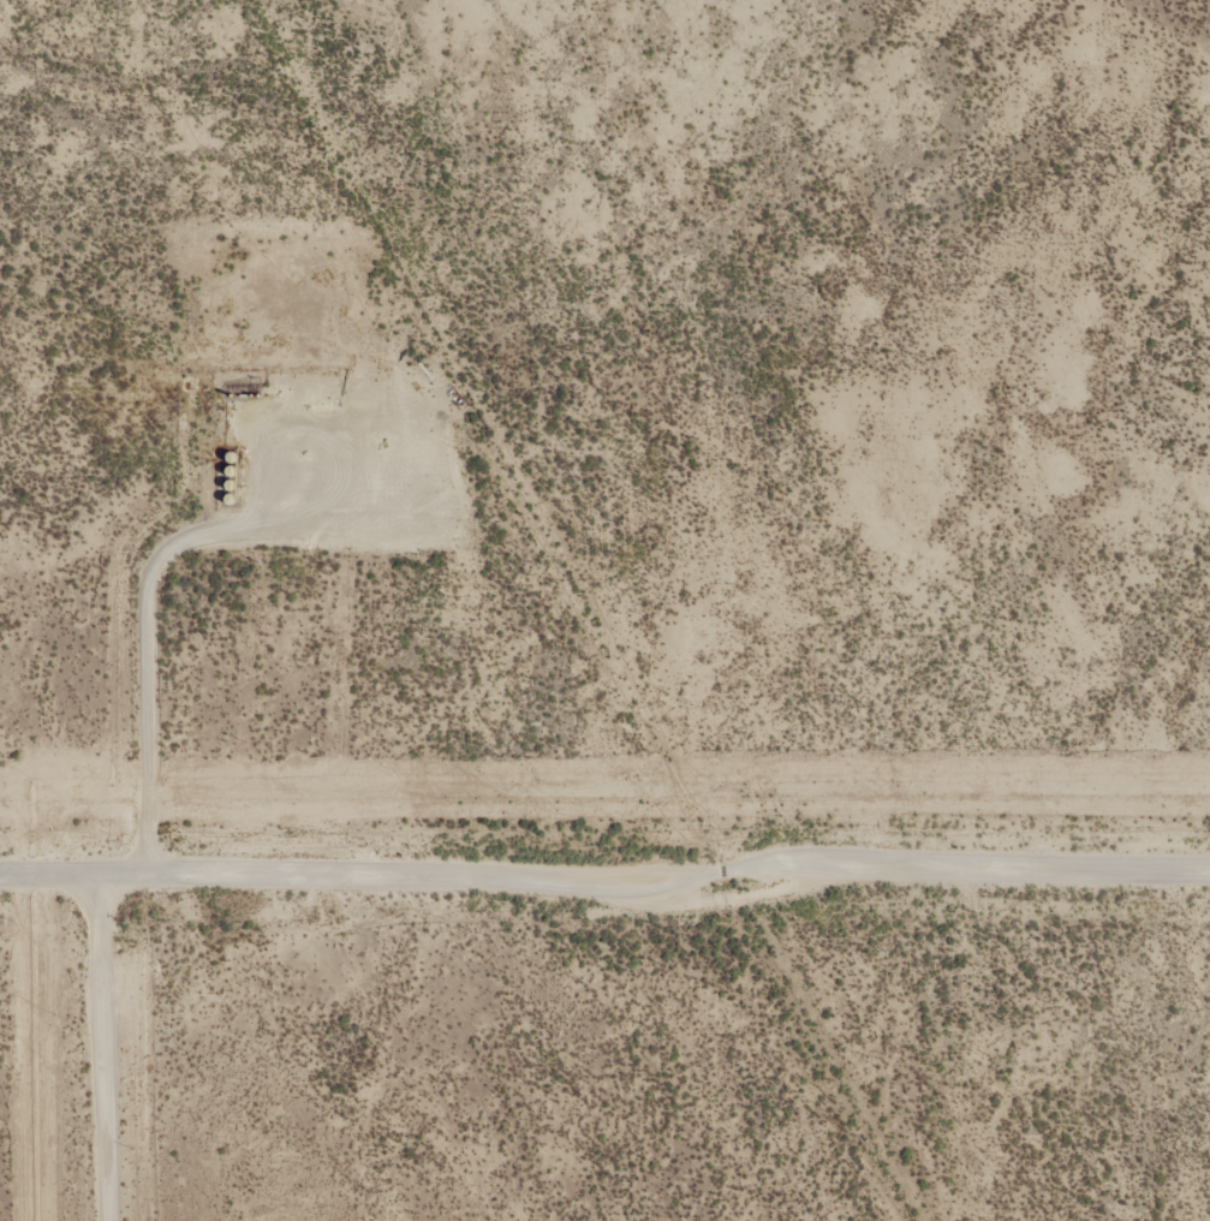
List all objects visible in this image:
road: (606, 885)

